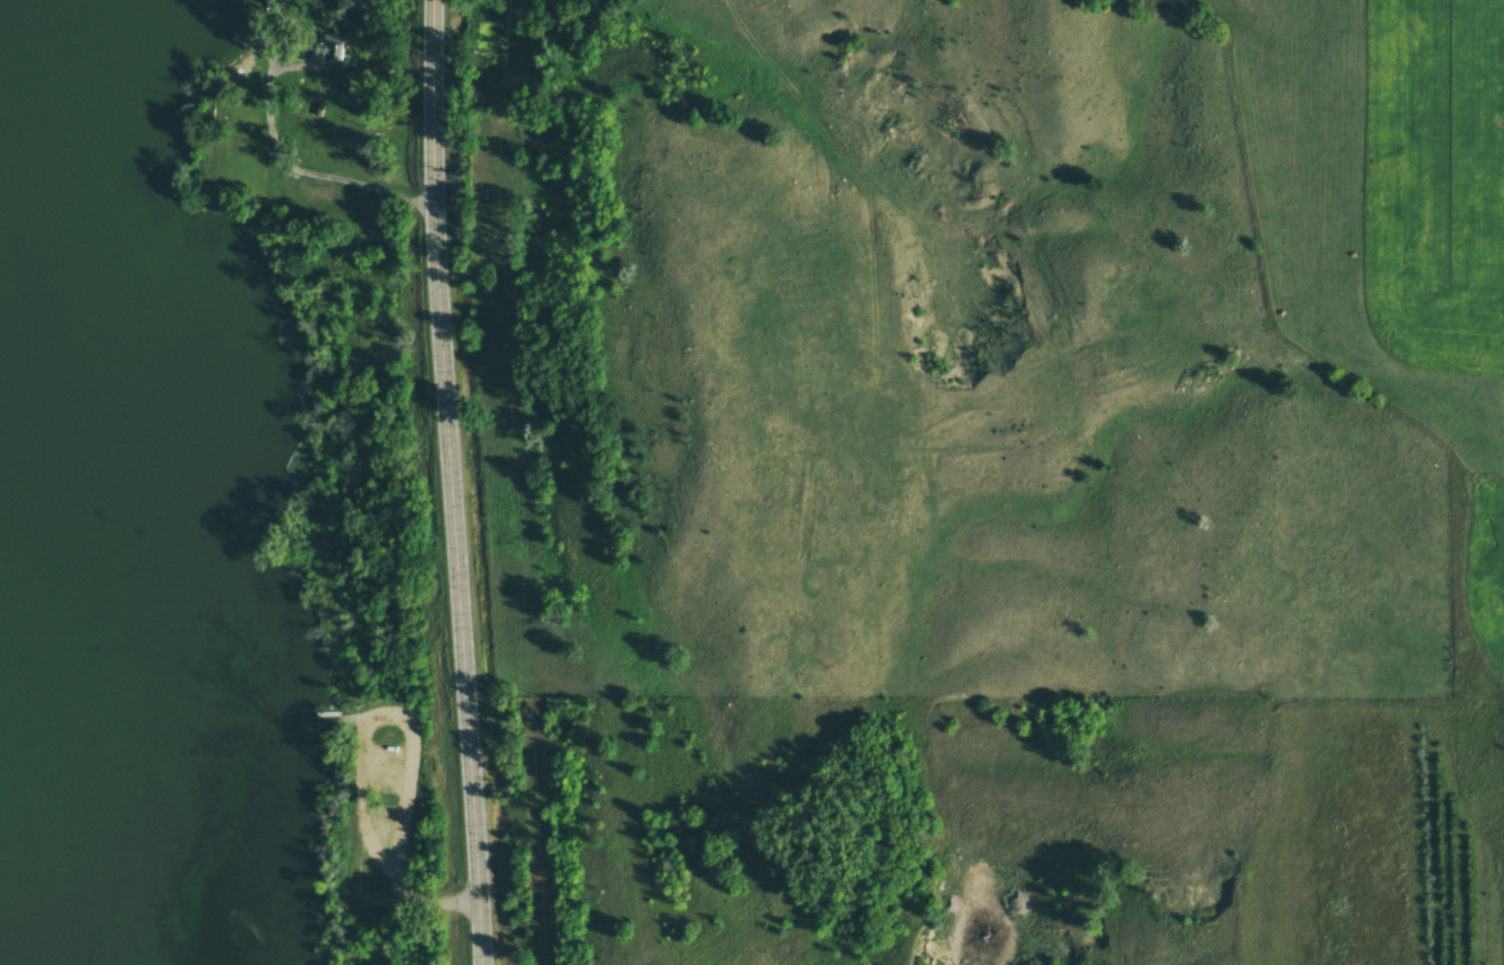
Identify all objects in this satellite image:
building: (325, 57)
road: (445, 483)
pier: (328, 715)
road: (350, 721)
road: (412, 746)
road: (384, 776)
park: (388, 815)
road: (368, 902)

